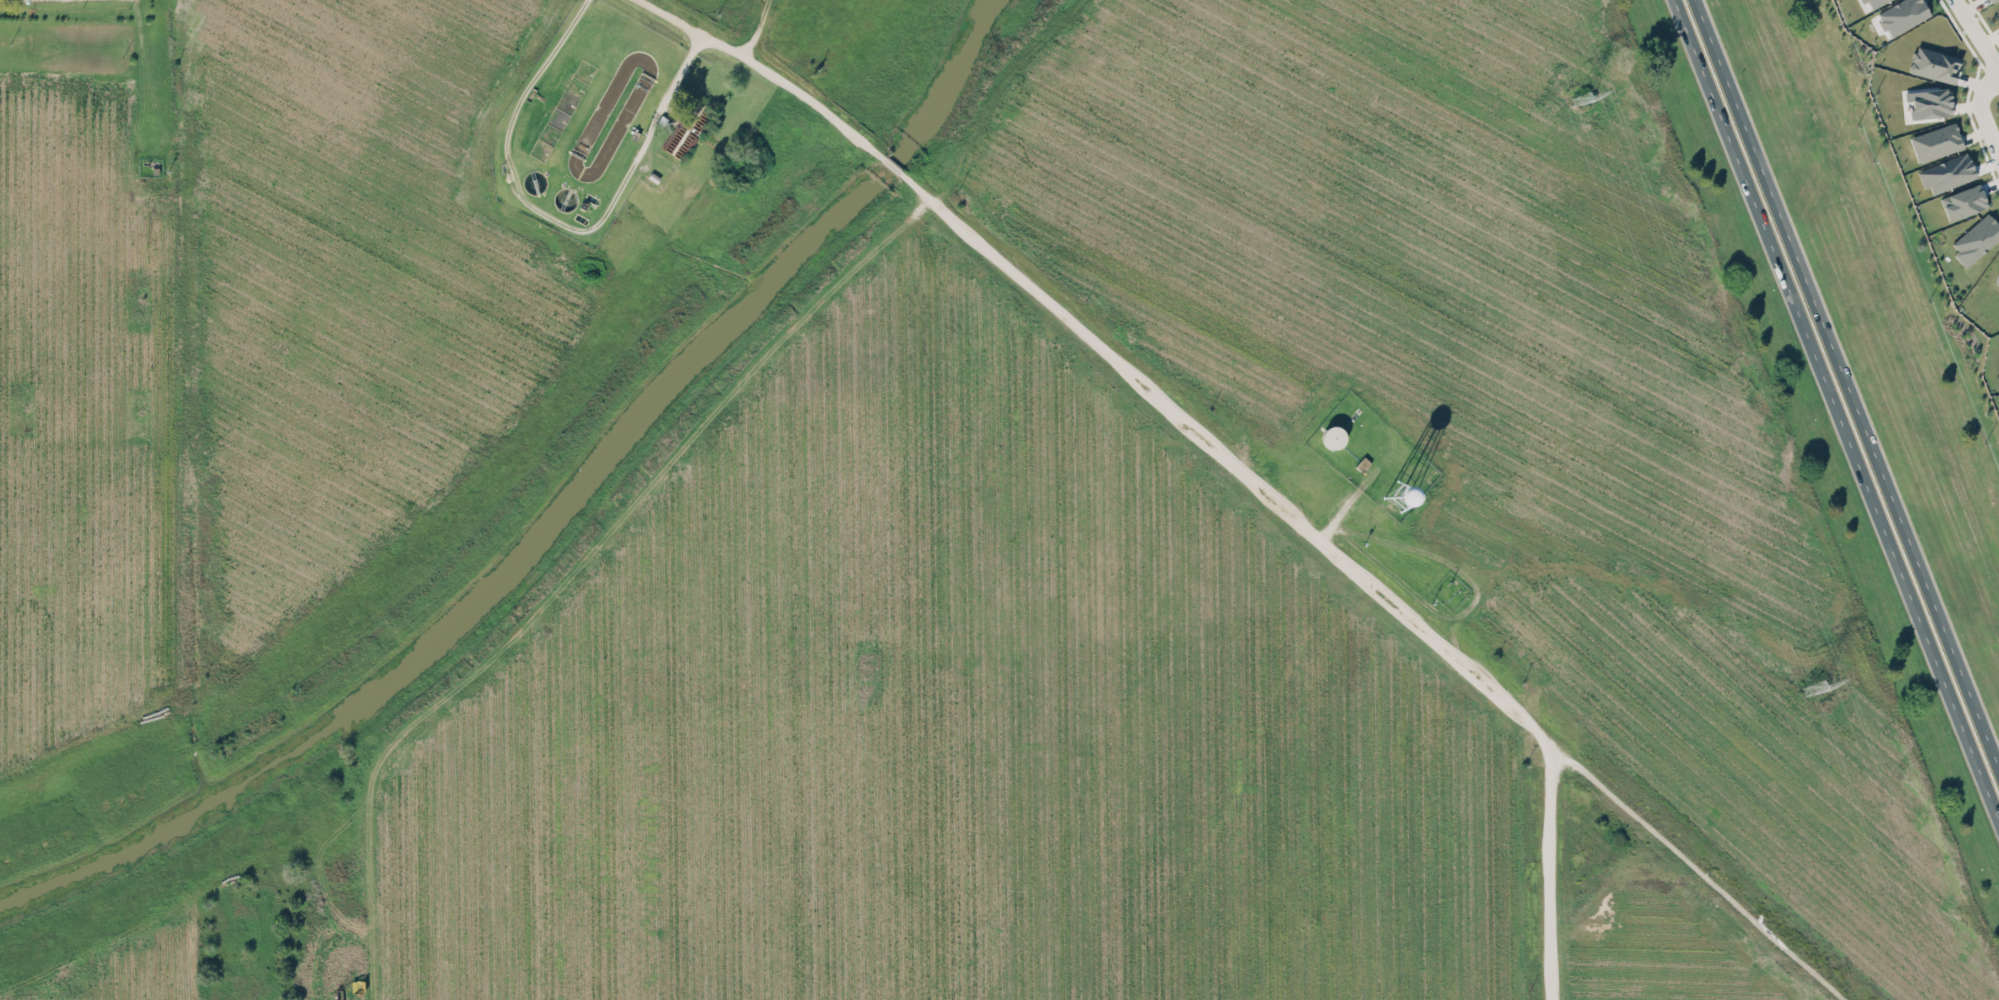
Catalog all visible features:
building: (1991, 0)
building: (1873, 2)
building: (1902, 15)
road: (756, 24)
road: (1974, 35)
building: (1934, 64)
road: (774, 70)
power tower: (1579, 97)
building: (1928, 102)
road: (1982, 112)
wastewater plant: (590, 117)
building: (1935, 141)
road: (891, 165)
building: (1946, 173)
building: (1963, 201)
road: (558, 219)
building: (1976, 239)
building: (1997, 278)
road: (1847, 381)
road: (1836, 407)
river: (556, 522)
road: (590, 581)
road: (1375, 584)
crop: (1142, 590)
power tower: (1812, 687)
road: (1551, 868)
crop: (1662, 948)

